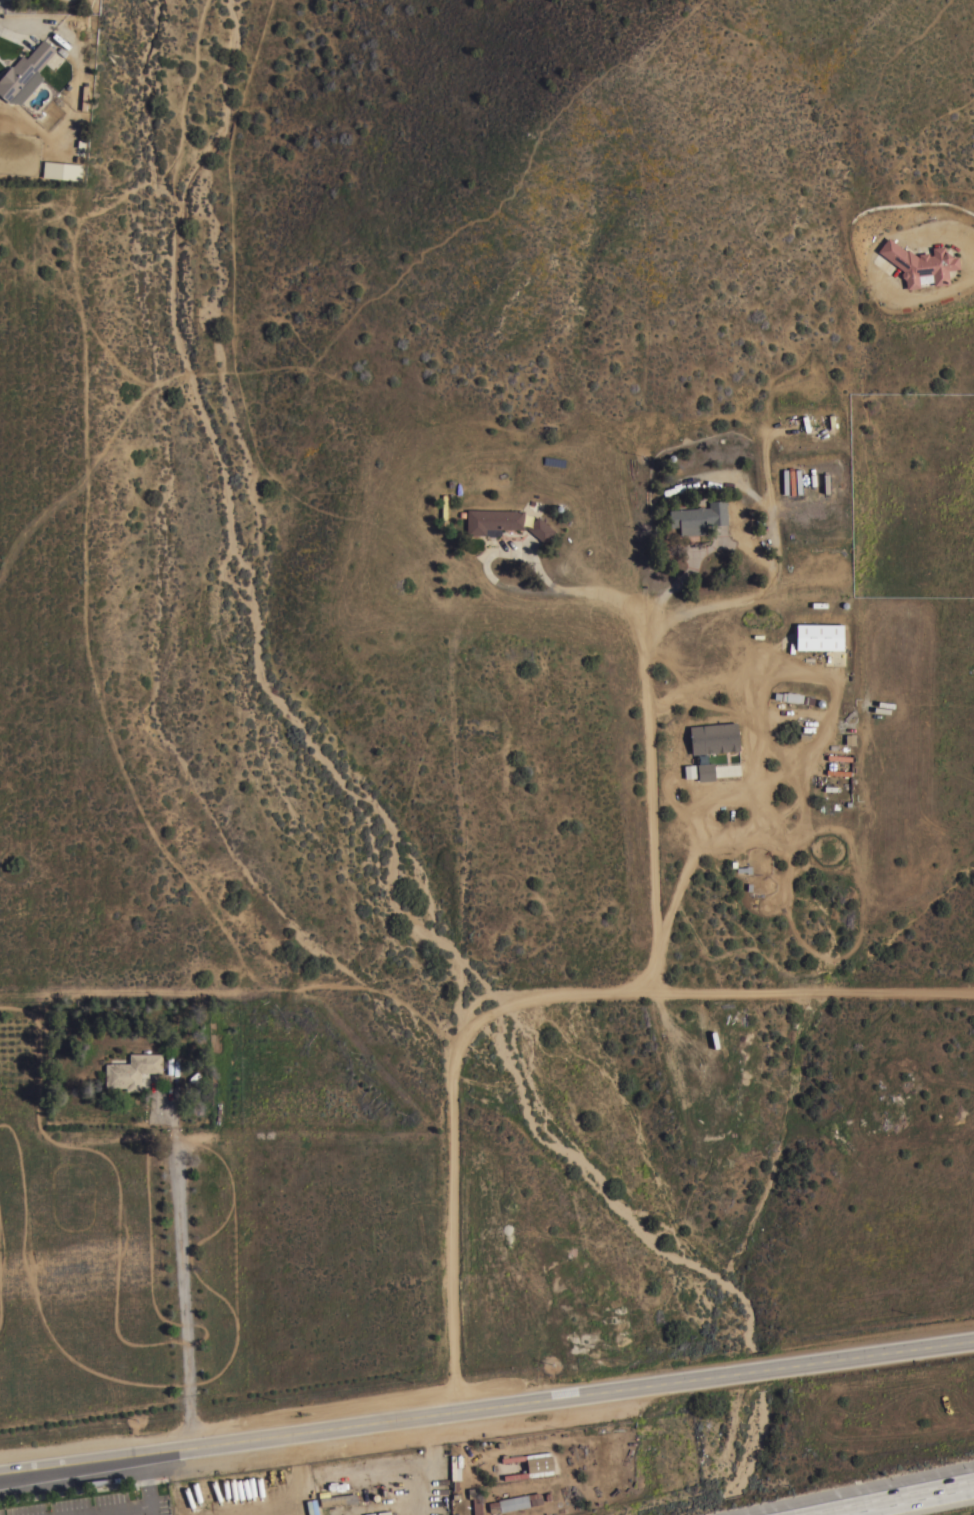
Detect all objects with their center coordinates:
road: (17, 31)
building: (24, 73)
building: (61, 170)
building: (920, 263)
building: (699, 517)
building: (493, 521)
building: (541, 529)
road: (702, 550)
road: (570, 585)
road: (762, 590)
building: (821, 635)
building: (792, 697)
building: (714, 737)
building: (724, 770)
building: (689, 771)
building: (706, 771)
road: (651, 800)
road: (732, 991)
road: (484, 1020)
building: (131, 1069)
road: (454, 1213)
road: (183, 1281)
road: (486, 1400)
building: (531, 1464)
building: (454, 1468)
road: (888, 1496)
building: (475, 1501)
building: (519, 1501)
building: (338, 1504)

